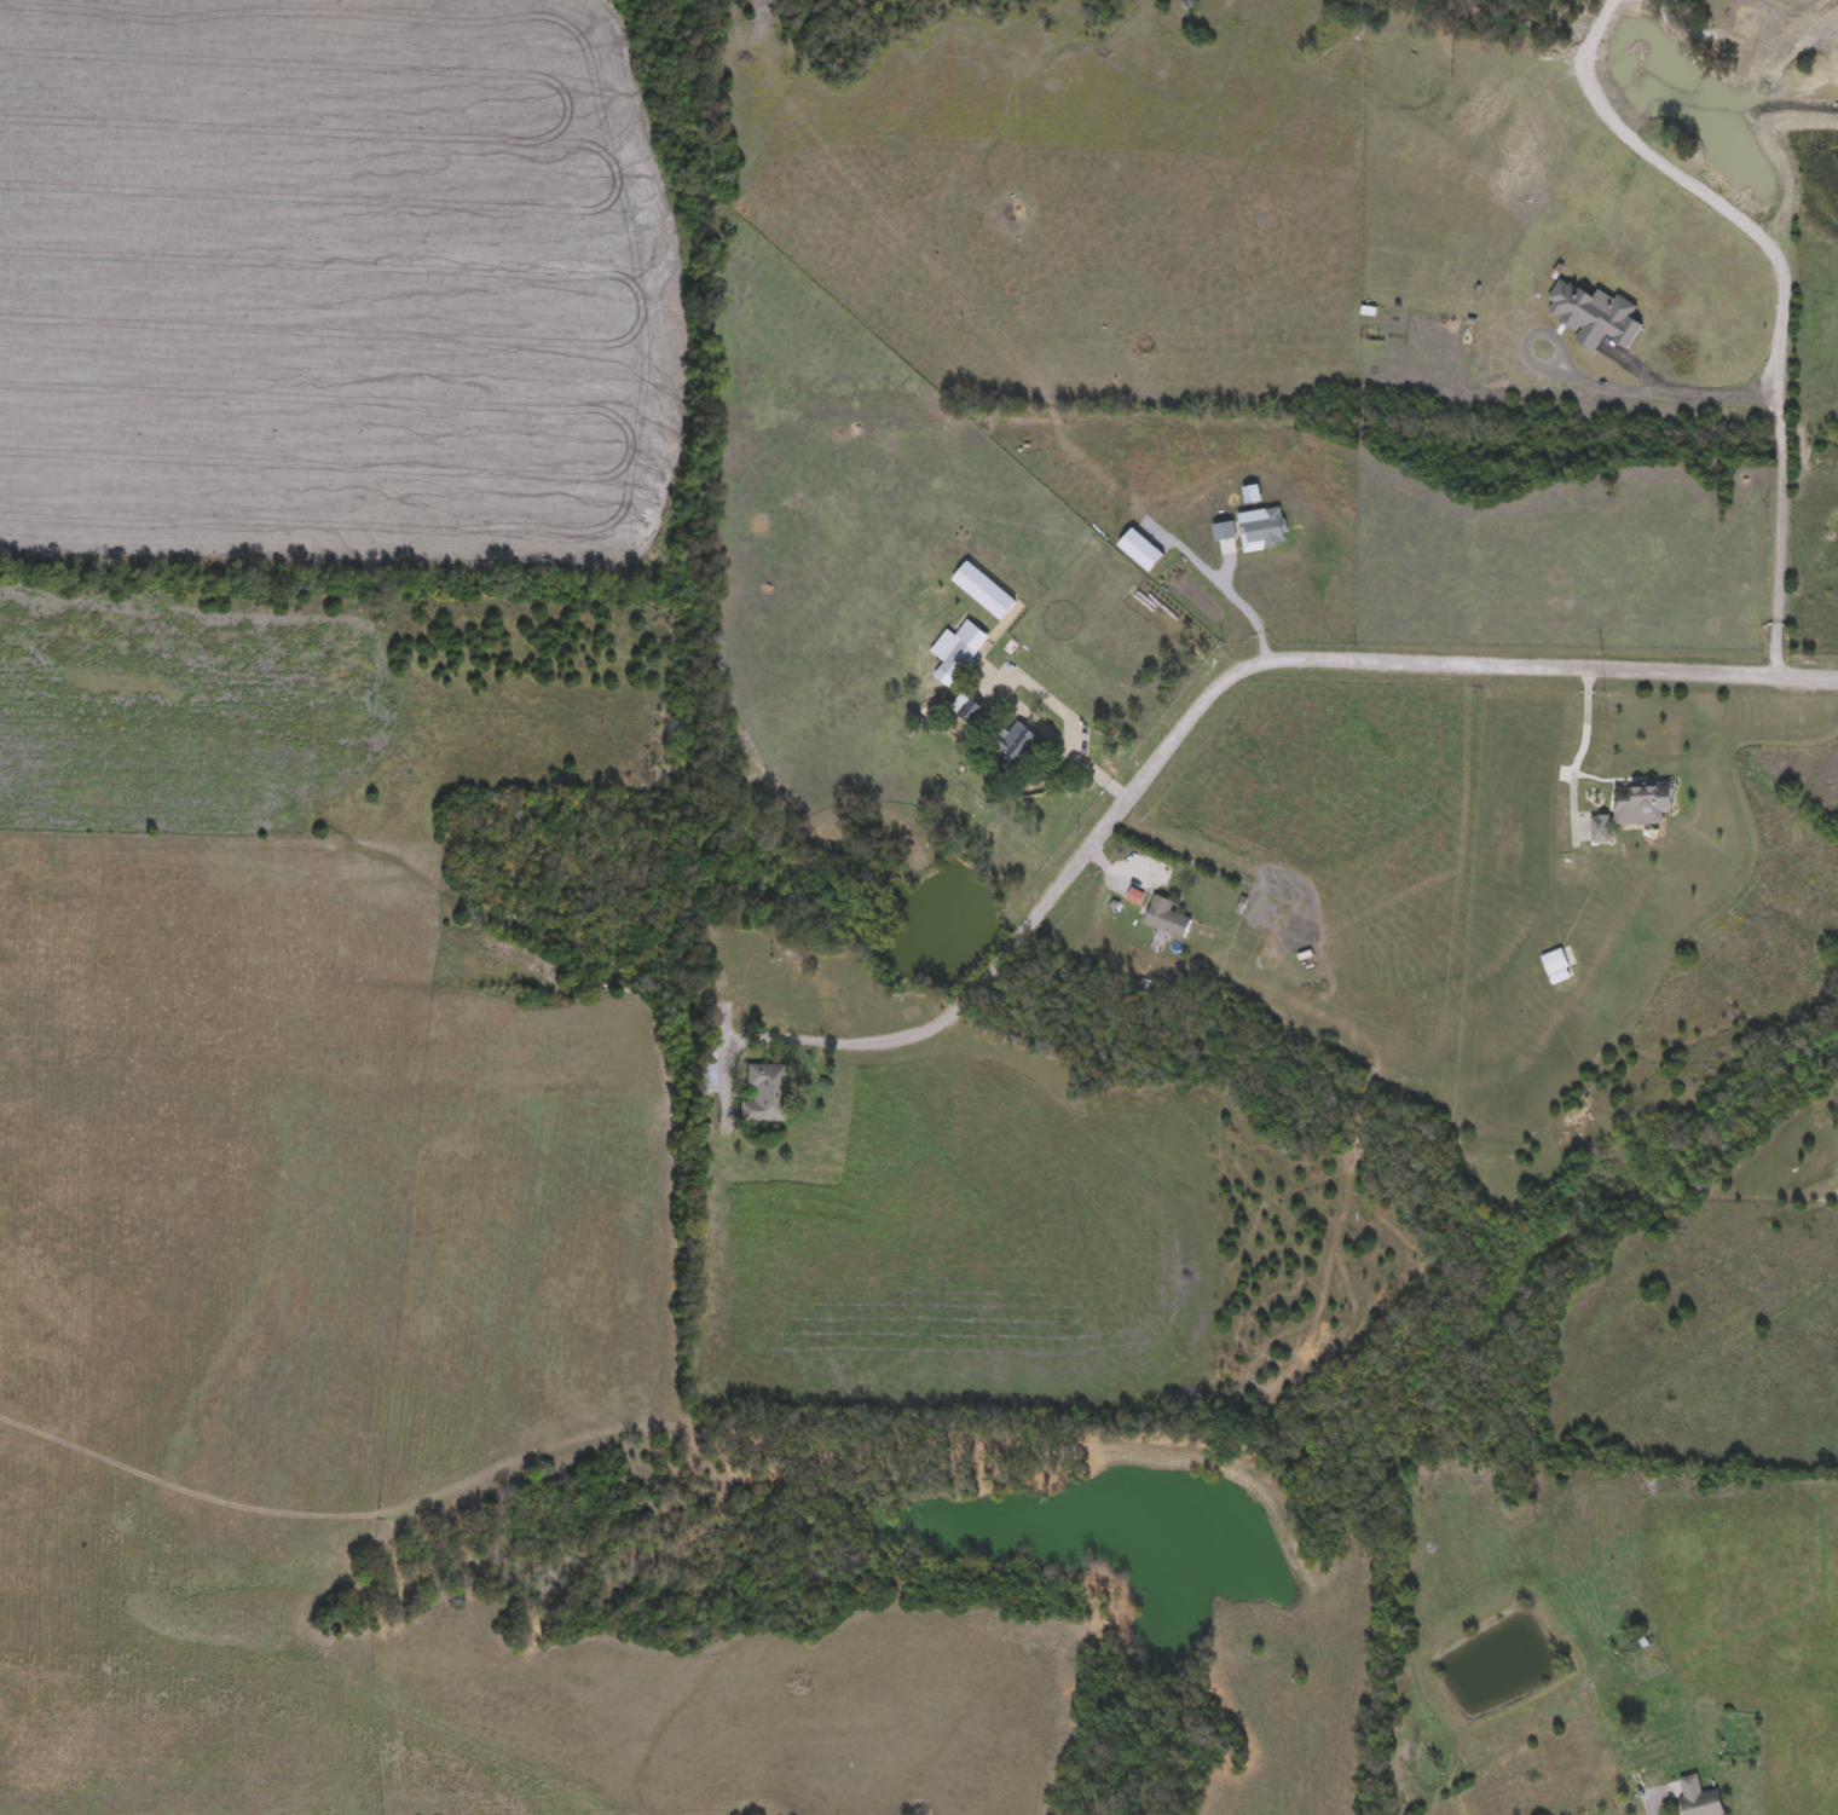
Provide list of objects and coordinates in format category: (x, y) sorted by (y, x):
road: (1786, 450)
building: (950, 658)
road: (1261, 663)
building: (971, 713)
road: (1028, 719)
road: (1073, 723)
building: (1017, 744)
road: (1579, 751)
building: (1634, 809)
building: (1166, 919)
building: (1554, 963)
road: (750, 1040)
building: (707, 1070)
building: (763, 1094)
building: (1698, 1798)

